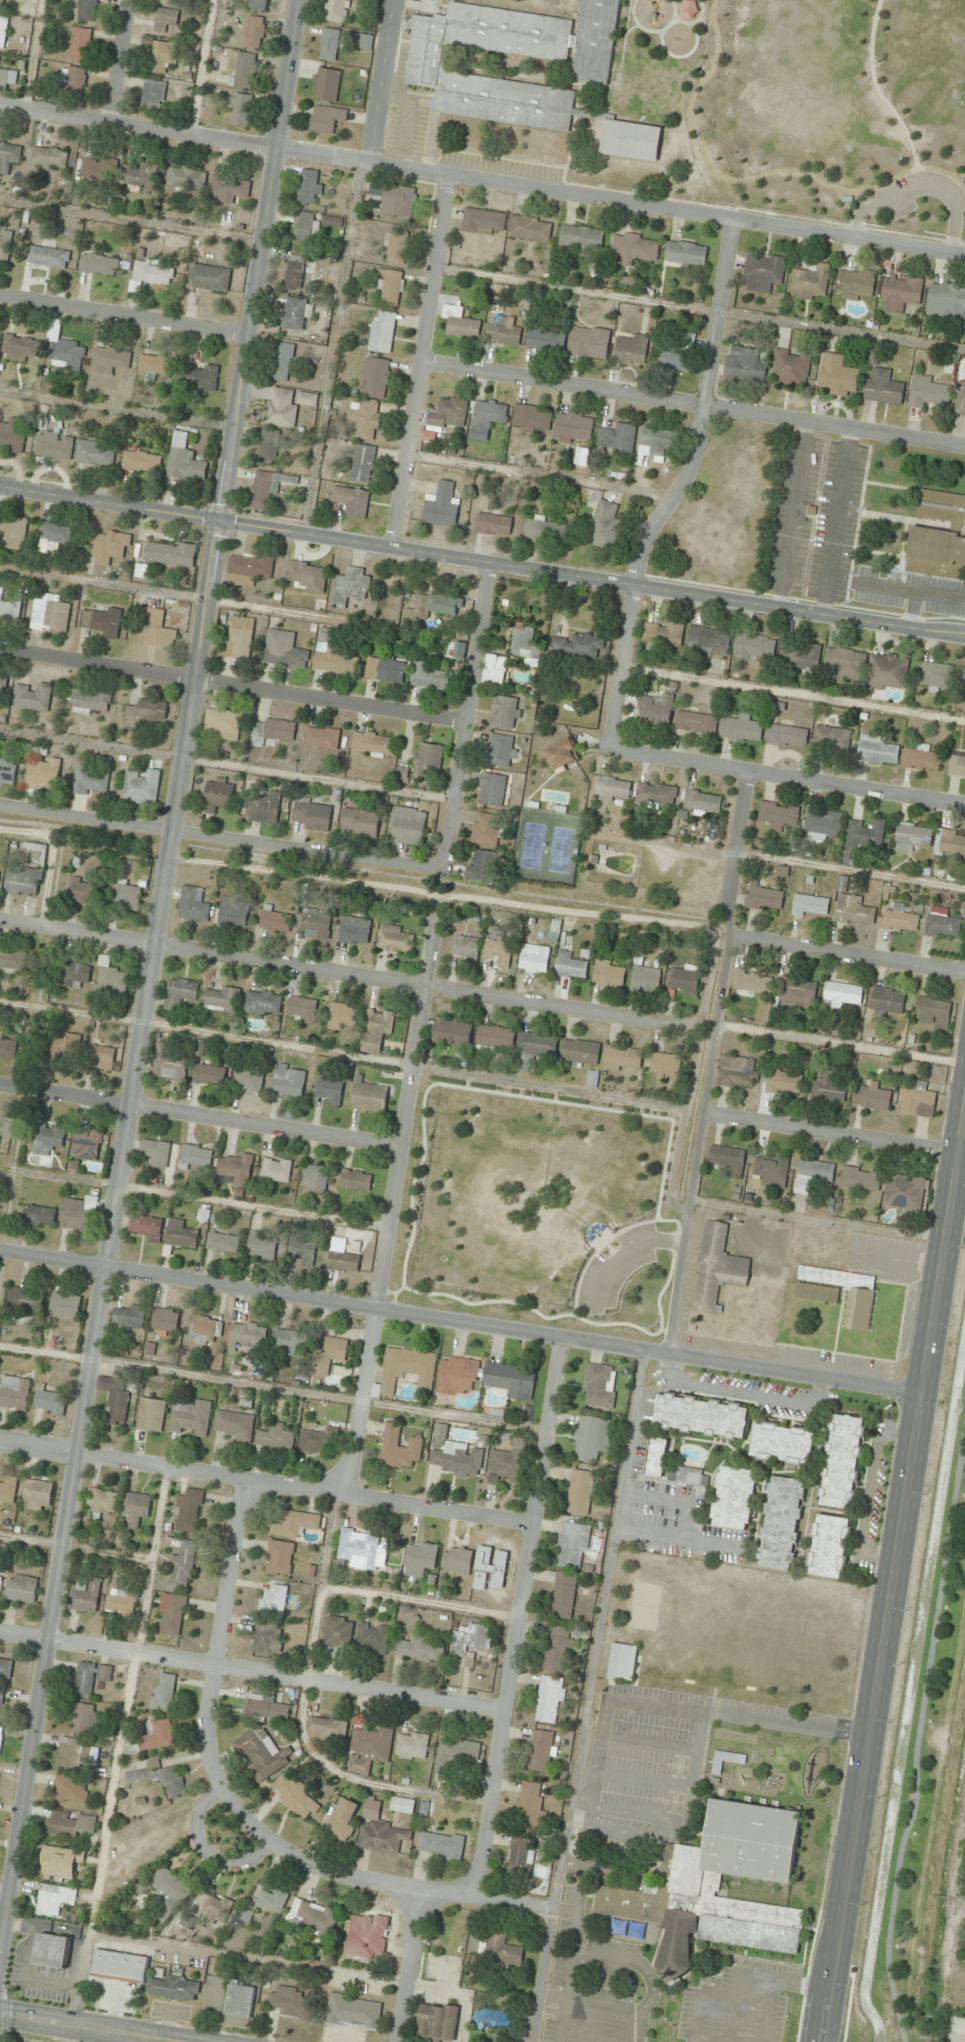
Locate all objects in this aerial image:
building: (1, 2)
building: (258, 4)
building: (86, 9)
building: (336, 10)
building: (165, 18)
building: (3, 31)
building: (254, 32)
building: (363, 42)
building: (81, 44)
building: (328, 44)
road: (31, 53)
building: (162, 53)
road: (122, 61)
building: (425, 66)
road: (201, 67)
building: (244, 70)
building: (6, 78)
road: (386, 80)
building: (74, 81)
building: (324, 83)
road: (876, 88)
building: (154, 95)
building: (241, 108)
park: (833, 110)
building: (324, 119)
road: (406, 132)
building: (629, 140)
park: (629, 140)
building: (9, 155)
building: (50, 156)
road: (915, 169)
building: (92, 170)
road: (946, 174)
building: (139, 176)
road: (721, 177)
building: (186, 178)
road: (482, 179)
road: (918, 187)
building: (309, 188)
building: (229, 190)
parking lot: (917, 193)
building: (393, 200)
road: (131, 220)
building: (334, 221)
building: (484, 222)
building: (305, 228)
building: (530, 229)
building: (582, 238)
building: (5, 246)
building: (395, 246)
building: (635, 247)
building: (686, 253)
building: (48, 257)
building: (100, 264)
building: (296, 270)
building: (154, 272)
building: (763, 272)
building: (209, 277)
building: (811, 281)
building: (857, 284)
building: (389, 287)
building: (901, 293)
building: (945, 299)
building: (294, 313)
road: (123, 316)
building: (460, 323)
building: (380, 331)
building: (503, 332)
building: (546, 340)
building: (590, 342)
road: (333, 347)
building: (20, 348)
building: (631, 349)
building: (65, 352)
building: (679, 353)
building: (110, 359)
road: (423, 361)
building: (282, 362)
building: (157, 365)
building: (745, 365)
building: (791, 367)
building: (838, 375)
building: (199, 378)
building: (374, 378)
building: (884, 388)
building: (929, 393)
building: (960, 399)
road: (693, 404)
building: (284, 405)
road: (116, 410)
building: (448, 413)
building: (364, 418)
building: (488, 418)
building: (533, 418)
building: (575, 427)
building: (12, 435)
building: (618, 439)
building: (661, 442)
building: (54, 446)
building: (267, 447)
building: (96, 454)
building: (583, 456)
building: (185, 460)
building: (139, 461)
building: (361, 463)
road: (682, 487)
building: (267, 488)
building: (349, 501)
road: (109, 502)
building: (442, 506)
traffic signals: (219, 520)
building: (605, 524)
building: (494, 525)
building: (547, 530)
building: (12, 532)
building: (57, 536)
building: (937, 537)
building: (108, 547)
building: (170, 553)
building: (249, 569)
building: (308, 576)
road: (591, 579)
building: (352, 587)
building: (434, 605)
building: (10, 609)
building: (51, 616)
building: (101, 621)
building: (158, 629)
building: (663, 633)
building: (239, 637)
building: (709, 640)
building: (525, 644)
building: (580, 646)
building: (755, 646)
building: (284, 650)
building: (460, 650)
building: (803, 657)
building: (334, 660)
building: (845, 662)
building: (385, 669)
building: (495, 669)
building: (888, 672)
building: (937, 676)
building: (433, 678)
building: (963, 682)
road: (234, 685)
building: (3, 686)
building: (33, 697)
building: (89, 701)
building: (656, 709)
building: (146, 712)
building: (505, 712)
road: (468, 717)
building: (696, 722)
building: (224, 724)
building: (742, 729)
building: (275, 731)
building: (787, 736)
building: (322, 738)
building: (832, 738)
building: (374, 744)
building: (878, 750)
building: (502, 751)
building: (563, 754)
building: (427, 758)
building: (922, 759)
building: (957, 765)
building: (8, 772)
building: (43, 775)
building: (91, 780)
road: (788, 781)
building: (142, 786)
building: (493, 789)
building: (611, 789)
building: (656, 794)
building: (218, 795)
building: (703, 803)
building: (265, 808)
building: (312, 815)
building: (779, 815)
building: (360, 822)
building: (822, 825)
building: (408, 826)
building: (487, 829)
building: (866, 834)
building: (912, 837)
road: (221, 840)
building: (951, 843)
building: (484, 868)
building: (24, 880)
building: (81, 891)
building: (126, 896)
building: (765, 898)
building: (194, 905)
building: (811, 907)
building: (853, 911)
building: (234, 912)
building: (276, 920)
building: (898, 920)
building: (316, 924)
building: (942, 924)
building: (355, 931)
building: (396, 940)
building: (466, 949)
building: (499, 952)
road: (849, 954)
building: (534, 958)
building: (12, 960)
building: (571, 966)
building: (609, 973)
road: (350, 974)
building: (75, 975)
building: (646, 978)
building: (684, 980)
building: (113, 981)
road: (146, 981)
building: (754, 983)
building: (799, 991)
building: (181, 992)
building: (843, 995)
building: (223, 1000)
building: (888, 1000)
building: (262, 1004)
building: (302, 1009)
building: (934, 1013)
building: (343, 1016)
building: (377, 1029)
building: (453, 1032)
building: (496, 1038)
building: (7, 1047)
building: (63, 1047)
building: (534, 1049)
building: (579, 1053)
building: (102, 1057)
building: (622, 1058)
building: (169, 1064)
road: (712, 1065)
building: (667, 1066)
building: (739, 1072)
building: (209, 1075)
building: (592, 1079)
building: (249, 1080)
building: (289, 1081)
building: (784, 1082)
road: (548, 1088)
building: (829, 1089)
building: (330, 1090)
building: (875, 1097)
building: (370, 1099)
building: (919, 1101)
road: (200, 1115)
building: (6, 1126)
road: (832, 1136)
building: (49, 1138)
building: (88, 1144)
building: (157, 1153)
building: (197, 1157)
building: (728, 1160)
building: (235, 1169)
building: (277, 1170)
building: (771, 1170)
building: (813, 1176)
building: (315, 1178)
building: (861, 1178)
building: (357, 1180)
building: (904, 1192)
road: (391, 1201)
park: (538, 1208)
building: (80, 1214)
building: (40, 1216)
building: (146, 1228)
building: (181, 1235)
building: (223, 1243)
building: (262, 1246)
building: (302, 1251)
building: (344, 1257)
building: (718, 1267)
building: (839, 1292)
building: (25, 1299)
building: (66, 1306)
building: (130, 1315)
building: (165, 1322)
road: (462, 1322)
building: (206, 1330)
building: (247, 1335)
building: (289, 1343)
building: (329, 1354)
building: (407, 1370)
building: (458, 1376)
building: (511, 1380)
building: (599, 1386)
building: (15, 1393)
building: (115, 1399)
building: (50, 1403)
building: (151, 1415)
building: (701, 1416)
building: (191, 1418)
building: (235, 1425)
building: (275, 1437)
building: (593, 1438)
building: (320, 1441)
building: (782, 1443)
building: (400, 1448)
building: (456, 1455)
building: (658, 1457)
building: (842, 1461)
building: (508, 1464)
road: (265, 1482)
building: (8, 1491)
building: (582, 1492)
building: (39, 1494)
building: (734, 1498)
building: (102, 1502)
building: (137, 1508)
building: (189, 1511)
building: (780, 1523)
building: (297, 1525)
building: (573, 1546)
building: (828, 1546)
building: (360, 1551)
building: (422, 1555)
building: (280, 1558)
building: (458, 1560)
building: (183, 1566)
road: (894, 1579)
building: (1, 1582)
building: (22, 1588)
building: (564, 1595)
building: (86, 1596)
building: (275, 1599)
building: (121, 1602)
road: (223, 1603)
building: (172, 1614)
road: (517, 1618)
building: (339, 1633)
building: (267, 1637)
building: (373, 1638)
building: (471, 1642)
building: (419, 1647)
building: (558, 1649)
building: (623, 1662)
building: (6, 1669)
road: (251, 1670)
building: (90, 1678)
building: (163, 1691)
building: (550, 1700)
building: (2, 1704)
building: (257, 1709)
building: (84, 1718)
building: (327, 1728)
building: (1, 1734)
building: (152, 1739)
road: (916, 1741)
building: (412, 1746)
building: (370, 1750)
building: (540, 1751)
building: (75, 1754)
building: (263, 1754)
road: (581, 1757)
building: (455, 1759)
building: (722, 1761)
building: (160, 1777)
building: (71, 1789)
building: (297, 1799)
building: (529, 1801)
building: (403, 1806)
building: (344, 1821)
building: (73, 1824)
building: (381, 1830)
building: (442, 1845)
building: (521, 1856)
building: (60, 1862)
road: (343, 1875)
building: (713, 1890)
building: (169, 1893)
building: (273, 1900)
building: (55, 1901)
building: (217, 1909)
building: (314, 1916)
building: (368, 1937)
building: (503, 1949)
building: (54, 1951)
building: (120, 1965)
road: (406, 1966)
building: (964, 1968)
building: (174, 1987)
building: (241, 2000)
building: (291, 2001)
building: (355, 2011)
building: (493, 2020)
building: (438, 2021)
road: (83, 2029)

